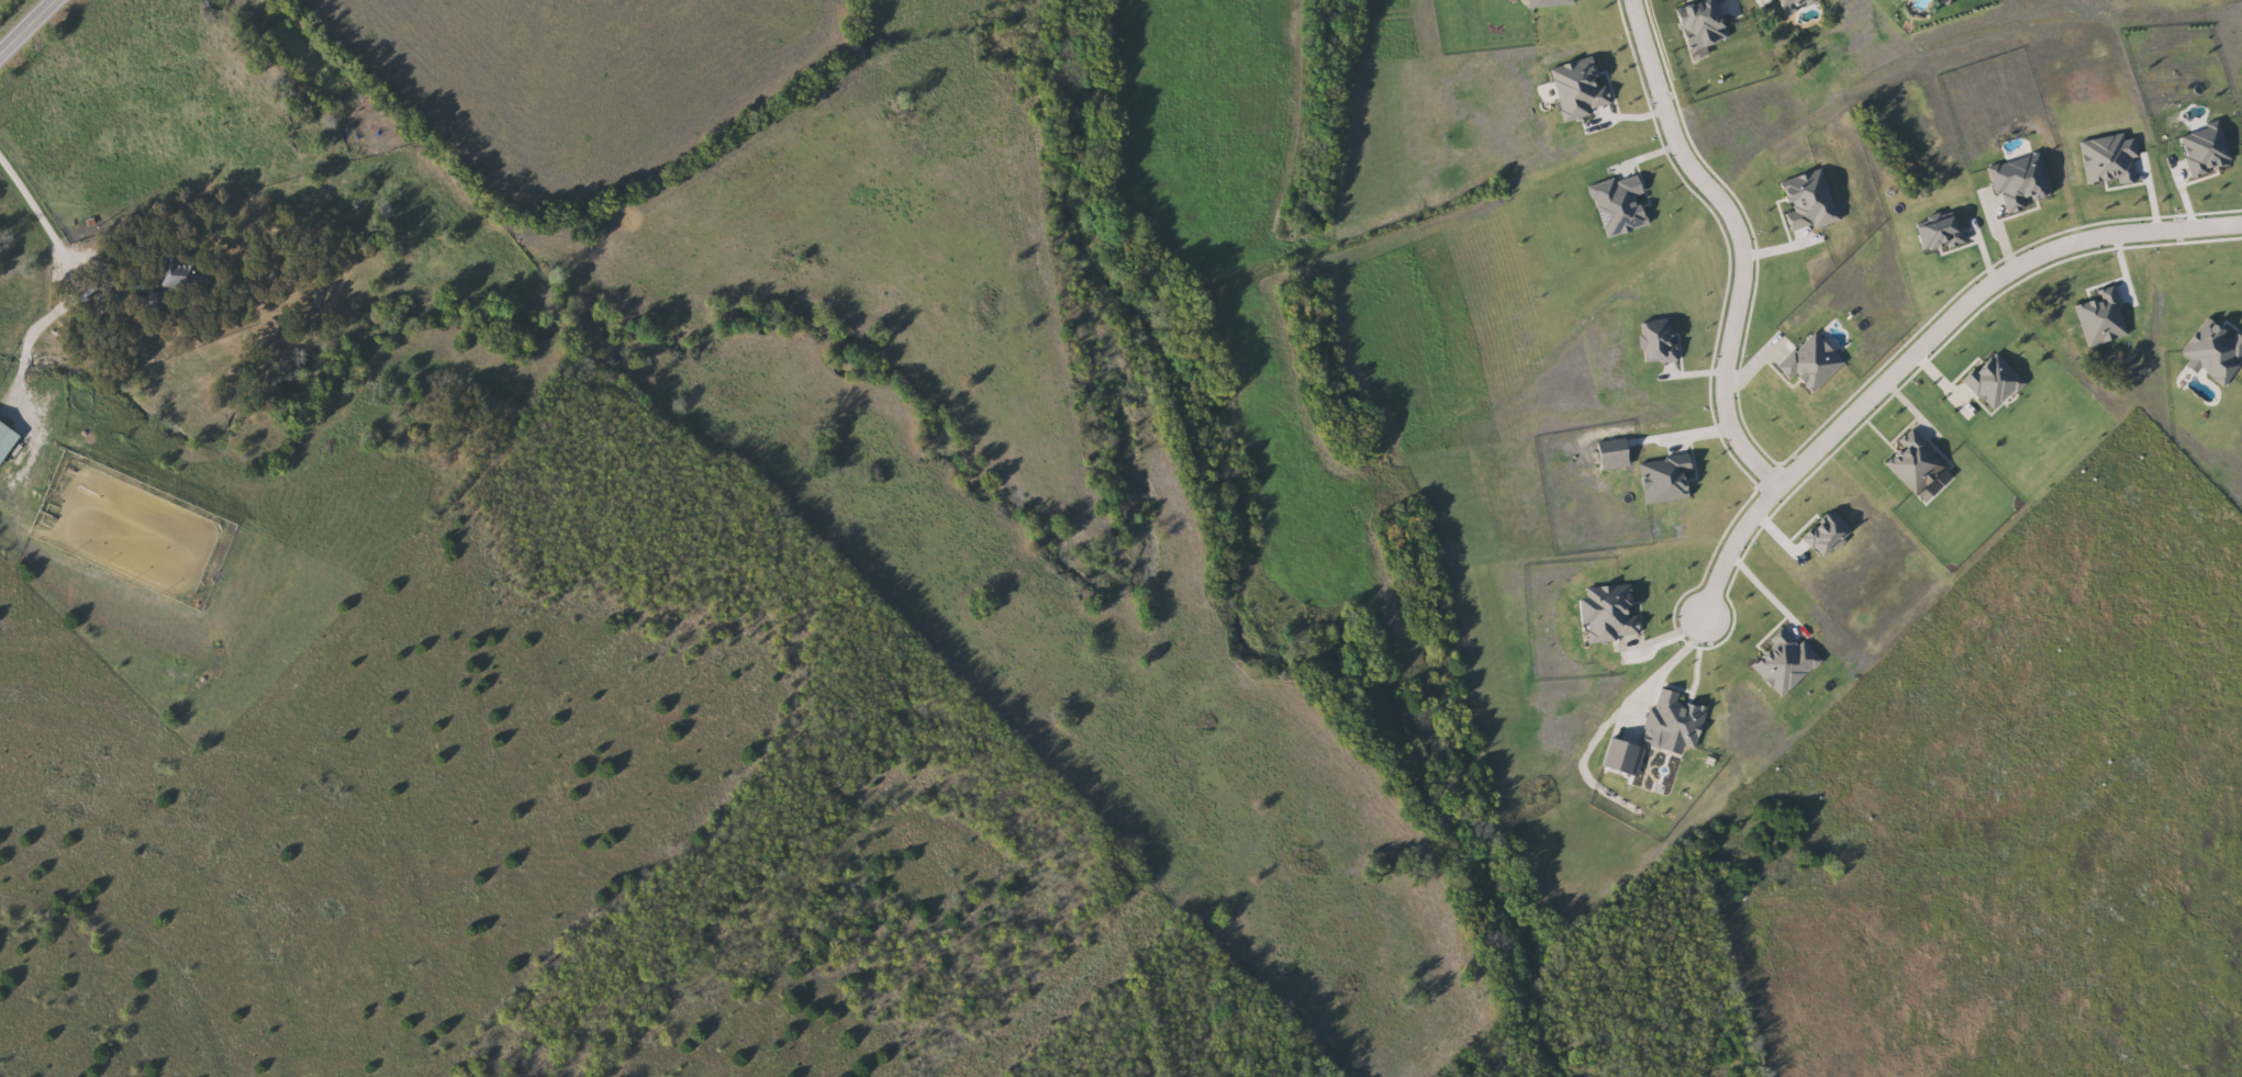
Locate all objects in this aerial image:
road: (25, 25)
road: (34, 201)
road: (1740, 237)
road: (1921, 343)
road: (1766, 590)

